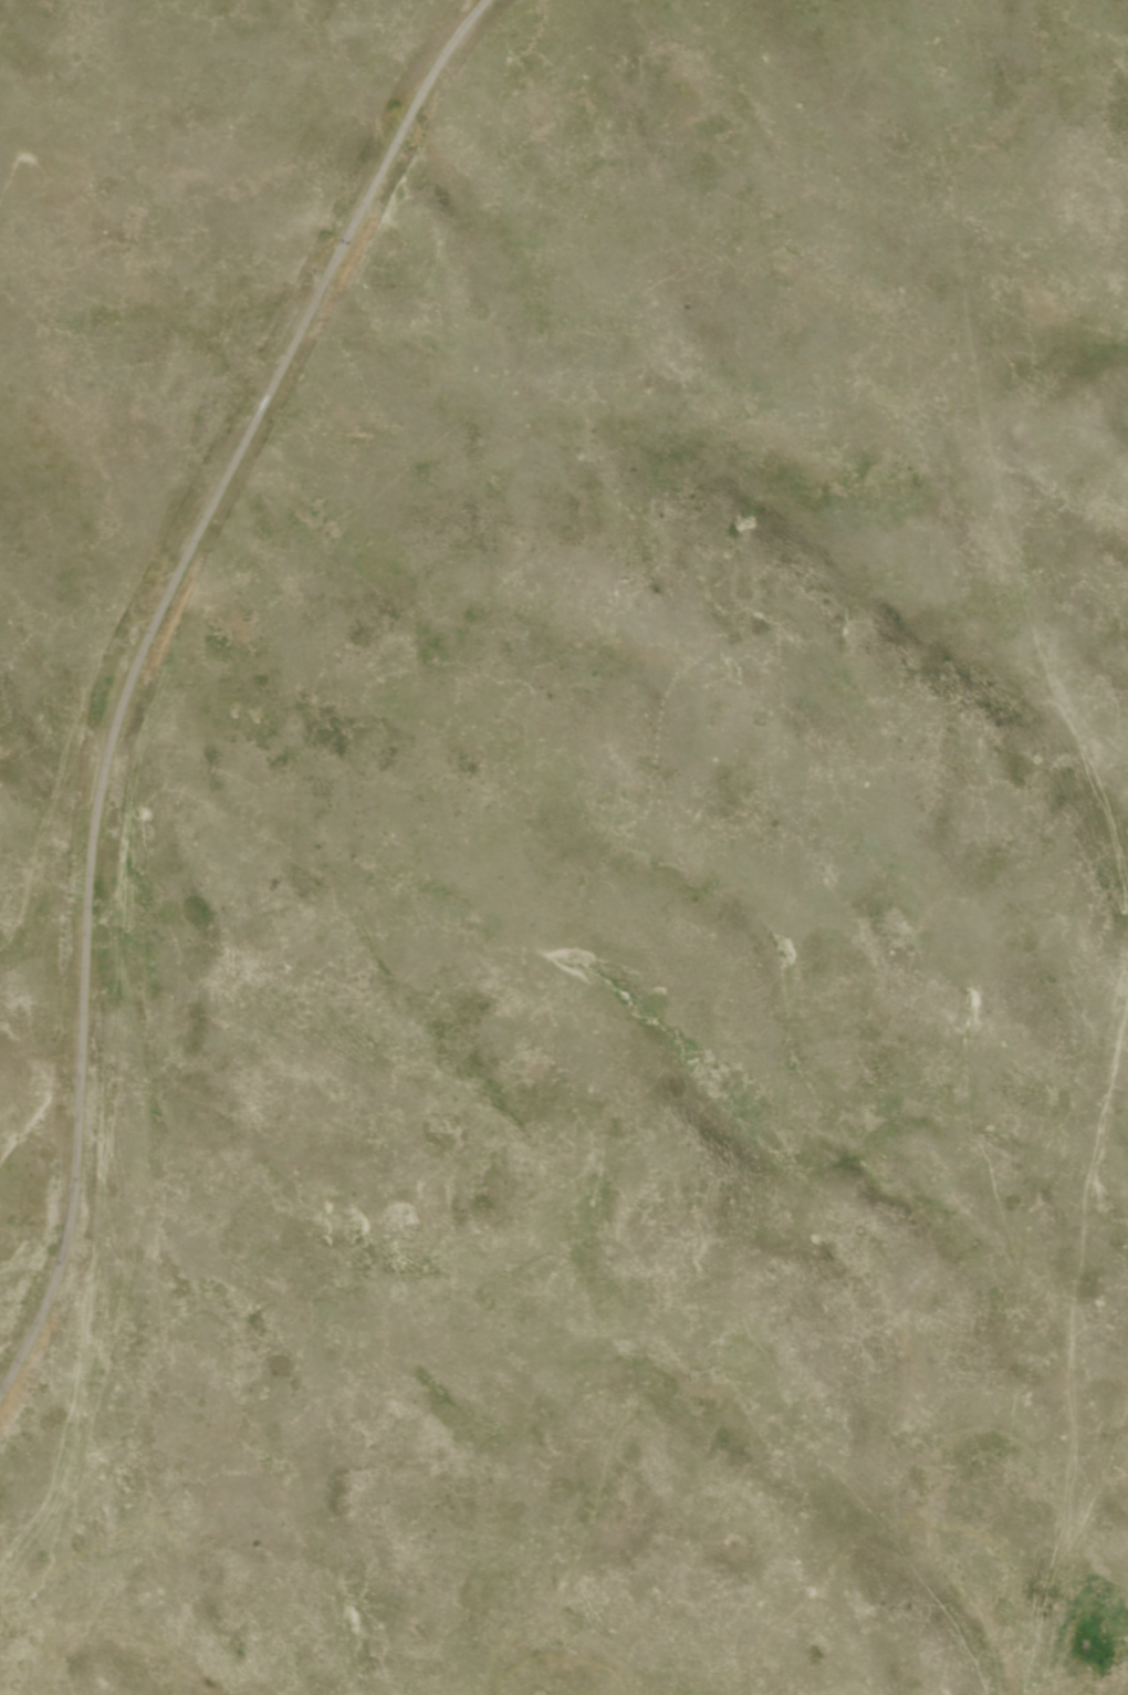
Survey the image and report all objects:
road: (135, 664)

